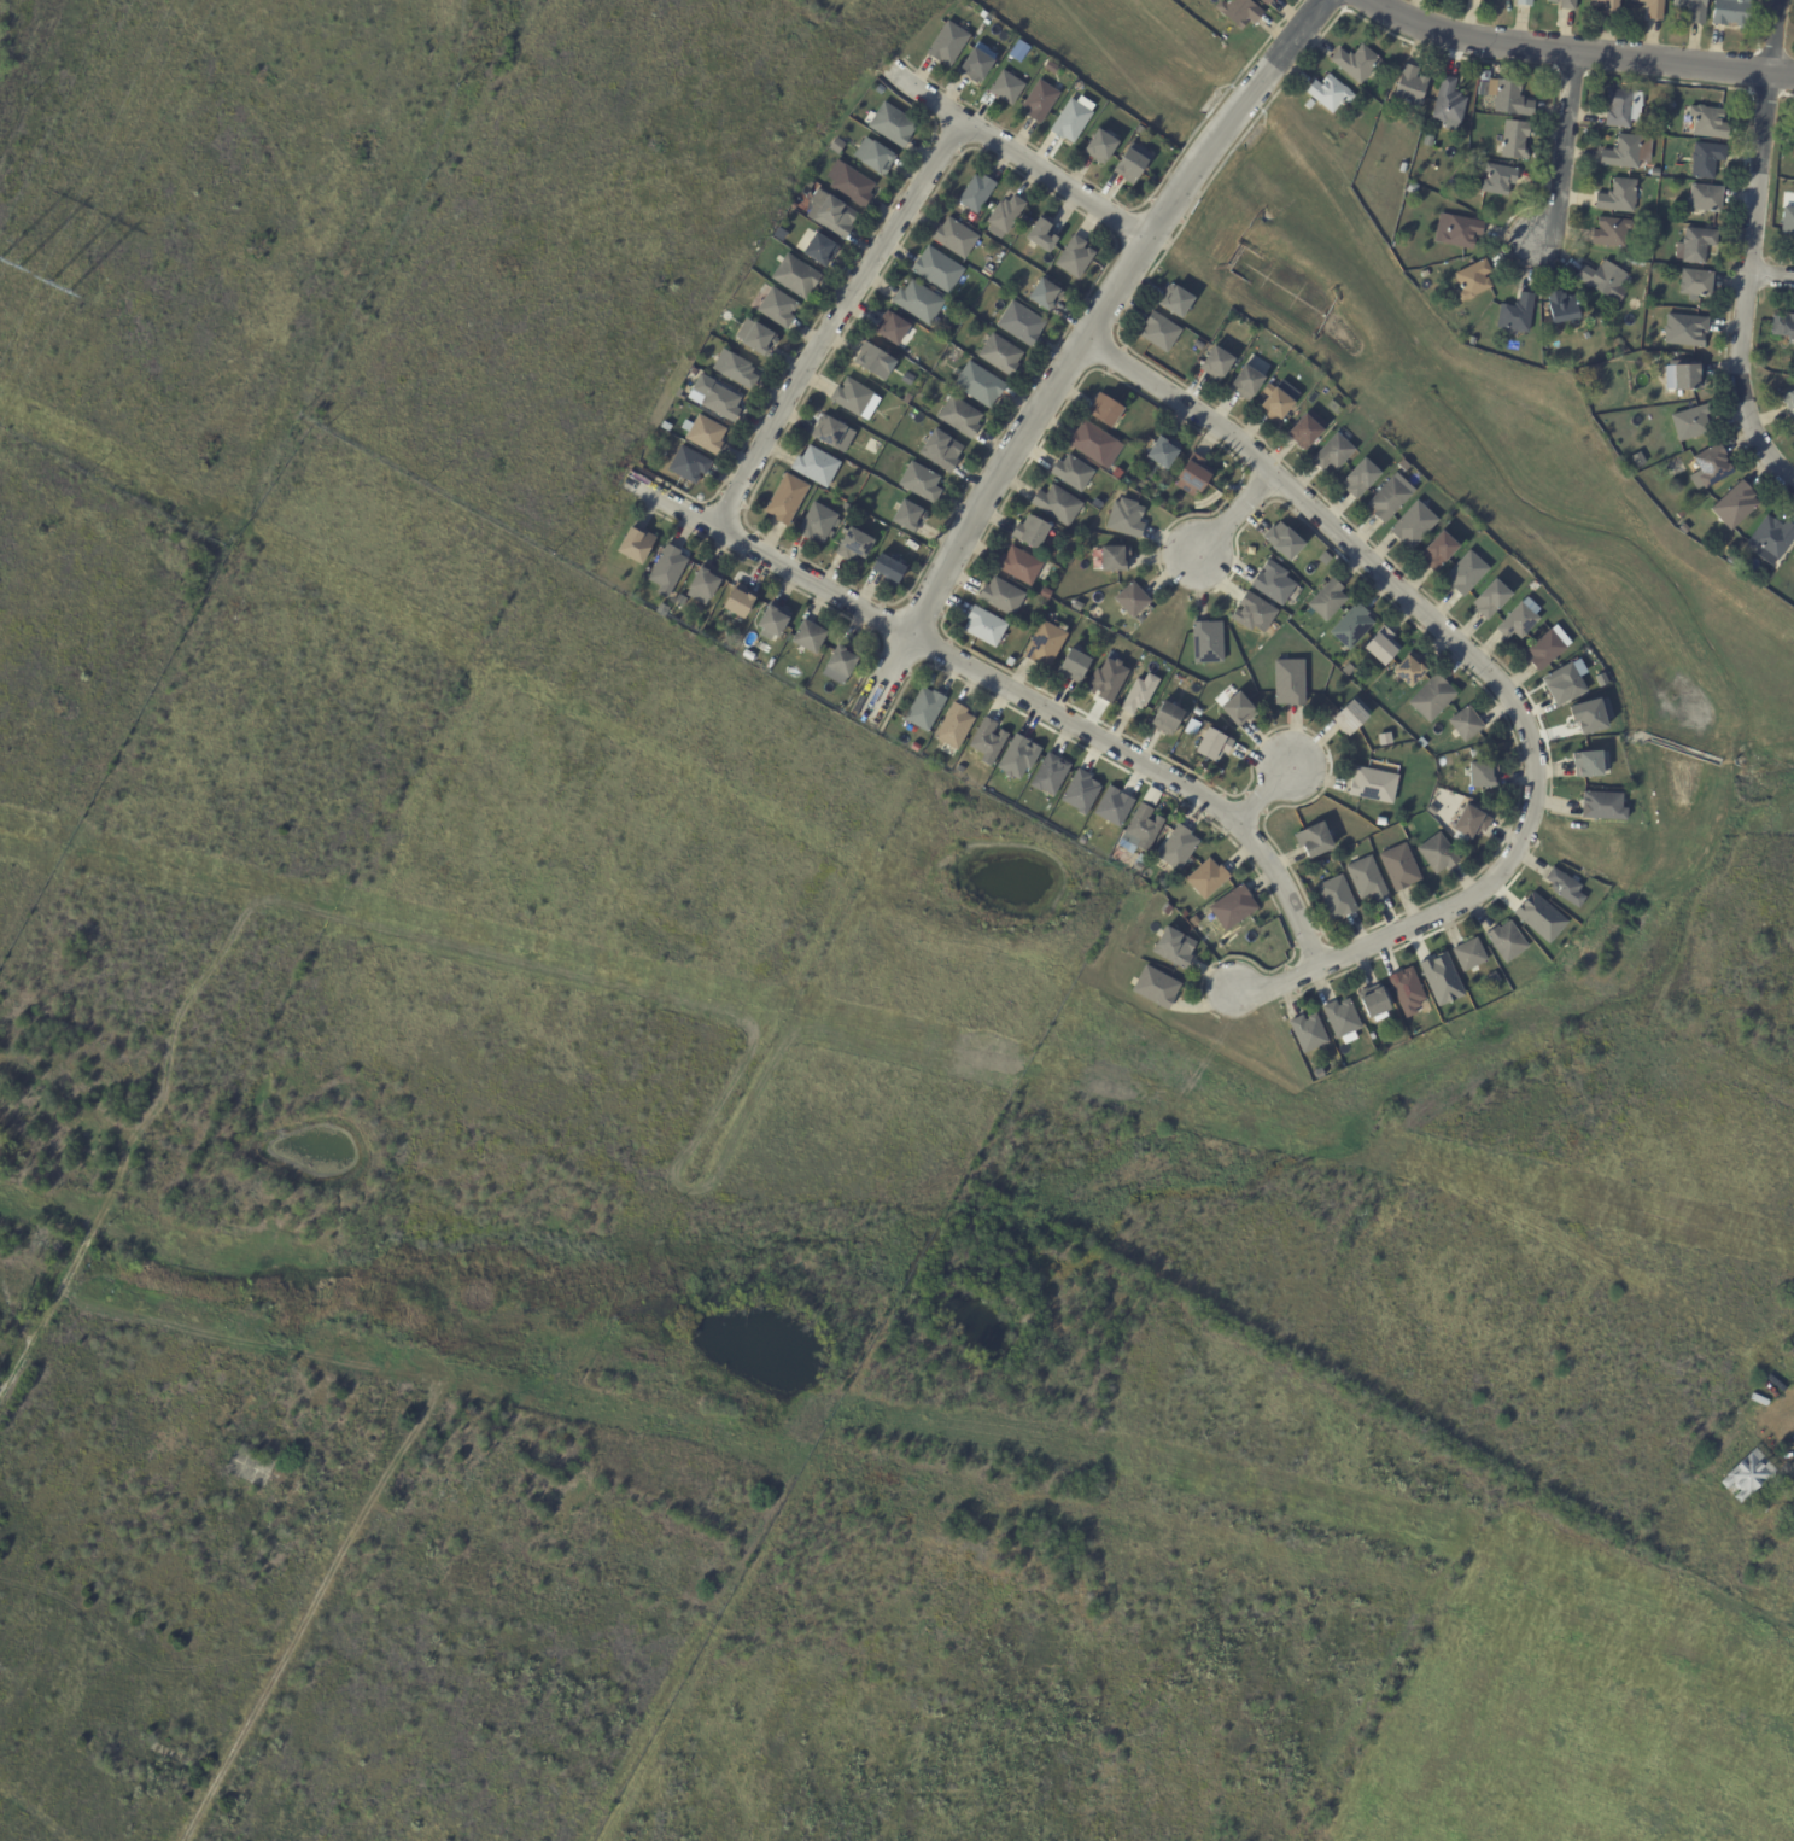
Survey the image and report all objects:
building: (1479, 0)
building: (1264, 2)
building: (1525, 2)
building: (1564, 4)
building: (1608, 6)
building: (1653, 8)
building: (1693, 10)
building: (1238, 12)
building: (1732, 13)
building: (982, 14)
park: (883, 17)
building: (947, 43)
building: (1018, 51)
road: (1574, 54)
building: (1356, 64)
building: (975, 66)
building: (1491, 78)
building: (1005, 87)
building: (1410, 89)
building: (1330, 94)
building: (1039, 100)
building: (1512, 100)
building: (1309, 105)
building: (1449, 106)
building: (1623, 109)
building: (1073, 117)
building: (892, 124)
building: (1708, 124)
building: (1659, 129)
building: (1139, 130)
building: (1514, 141)
building: (1427, 142)
building: (837, 146)
building: (1099, 146)
road: (1562, 148)
building: (1628, 153)
building: (1793, 153)
building: (873, 156)
road: (1015, 158)
building: (1707, 160)
building: (1133, 163)
building: (1655, 174)
building: (1497, 181)
building: (849, 182)
building: (808, 185)
building: (1412, 189)
building: (975, 193)
building: (1619, 198)
building: (1705, 199)
building: (830, 214)
building: (1004, 216)
building: (1787, 223)
building: (1457, 232)
building: (1611, 233)
building: (1041, 235)
building: (954, 238)
building: (1697, 246)
building: (819, 249)
building: (1648, 250)
road: (1749, 250)
building: (1074, 257)
building: (936, 269)
building: (794, 275)
road: (1770, 275)
building: (1602, 280)
power tower: (28, 281)
building: (1473, 281)
building: (1696, 284)
building: (1046, 296)
building: (1175, 300)
building: (918, 303)
building: (777, 308)
building: (1561, 309)
building: (1517, 316)
road: (837, 323)
building: (1019, 323)
building: (1783, 328)
building: (893, 329)
building: (1159, 332)
building: (1685, 332)
building: (758, 339)
building: (940, 345)
road: (1074, 351)
building: (999, 355)
building: (869, 358)
building: (1215, 363)
building: (734, 369)
building: (1684, 379)
building: (907, 380)
building: (1245, 381)
building: (978, 385)
building: (1305, 392)
building: (851, 396)
building: (907, 399)
building: (721, 403)
building: (1275, 404)
building: (1789, 404)
building: (1105, 410)
building: (959, 417)
building: (1690, 425)
building: (1307, 431)
building: (828, 432)
building: (706, 434)
building: (1094, 444)
building: (941, 451)
building: (1163, 452)
building: (1333, 452)
building: (1403, 466)
building: (689, 467)
building: (816, 467)
building: (1711, 469)
building: (1071, 473)
building: (1116, 473)
building: (1193, 475)
building: (1360, 478)
building: (919, 483)
building: (785, 499)
building: (1389, 499)
building: (1093, 504)
building: (1056, 505)
building: (846, 508)
building: (1735, 508)
road: (1232, 512)
building: (1681, 515)
building: (907, 516)
building: (1124, 518)
building: (817, 524)
building: (1414, 525)
building: (1684, 530)
building: (1030, 533)
building: (1772, 539)
building: (1282, 540)
building: (911, 544)
building: (636, 545)
building: (853, 547)
building: (1437, 551)
building: (1110, 559)
building: (1323, 559)
building: (1793, 559)
building: (1732, 561)
building: (1018, 566)
building: (667, 568)
building: (888, 571)
building: (1467, 573)
building: (705, 581)
building: (1272, 583)
building: (1045, 594)
building: (1000, 596)
building: (1058, 597)
building: (1132, 600)
building: (1492, 600)
building: (1328, 601)
building: (738, 602)
building: (1252, 613)
building: (773, 621)
building: (1518, 621)
building: (1351, 626)
building: (983, 627)
building: (808, 637)
building: (1206, 642)
building: (1579, 643)
building: (1045, 644)
building: (1381, 647)
building: (1548, 648)
building: (748, 656)
building: (841, 659)
building: (1073, 666)
building: (1409, 670)
building: (1349, 671)
road: (1492, 678)
building: (1106, 679)
building: (1564, 682)
building: (1288, 683)
road: (1007, 689)
building: (1139, 694)
building: (1432, 699)
park: (1747, 705)
building: (1237, 709)
building: (924, 711)
building: (1197, 712)
building: (1590, 715)
building: (1349, 718)
building: (1167, 719)
building: (1466, 724)
building: (954, 727)
building: (1191, 729)
building: (987, 741)
building: (1212, 746)
building: (1474, 752)
building: (1017, 756)
building: (1588, 764)
building: (1483, 775)
building: (1050, 776)
road: (1275, 784)
building: (1373, 785)
building: (1080, 793)
building: (1150, 796)
building: (1112, 806)
building: (1603, 806)
building: (1432, 811)
building: (1471, 823)
building: (1141, 828)
building: (1313, 841)
building: (1178, 848)
building: (1437, 854)
building: (1319, 864)
building: (1399, 869)
building: (1206, 879)
building: (1366, 879)
building: (1565, 888)
building: (1337, 898)
building: (1233, 908)
building: (1184, 914)
building: (1538, 917)
building: (1198, 918)
building: (1507, 942)
building: (1173, 948)
building: (1468, 955)
building: (1439, 978)
building: (1156, 988)
building: (1407, 992)
building: (1374, 1005)
building: (1342, 1019)
building: (1390, 1027)
building: (1308, 1034)
building: (1372, 1038)
building: (1351, 1040)
building: (1307, 1058)
road: (36, 1338)
building: (1748, 1475)

